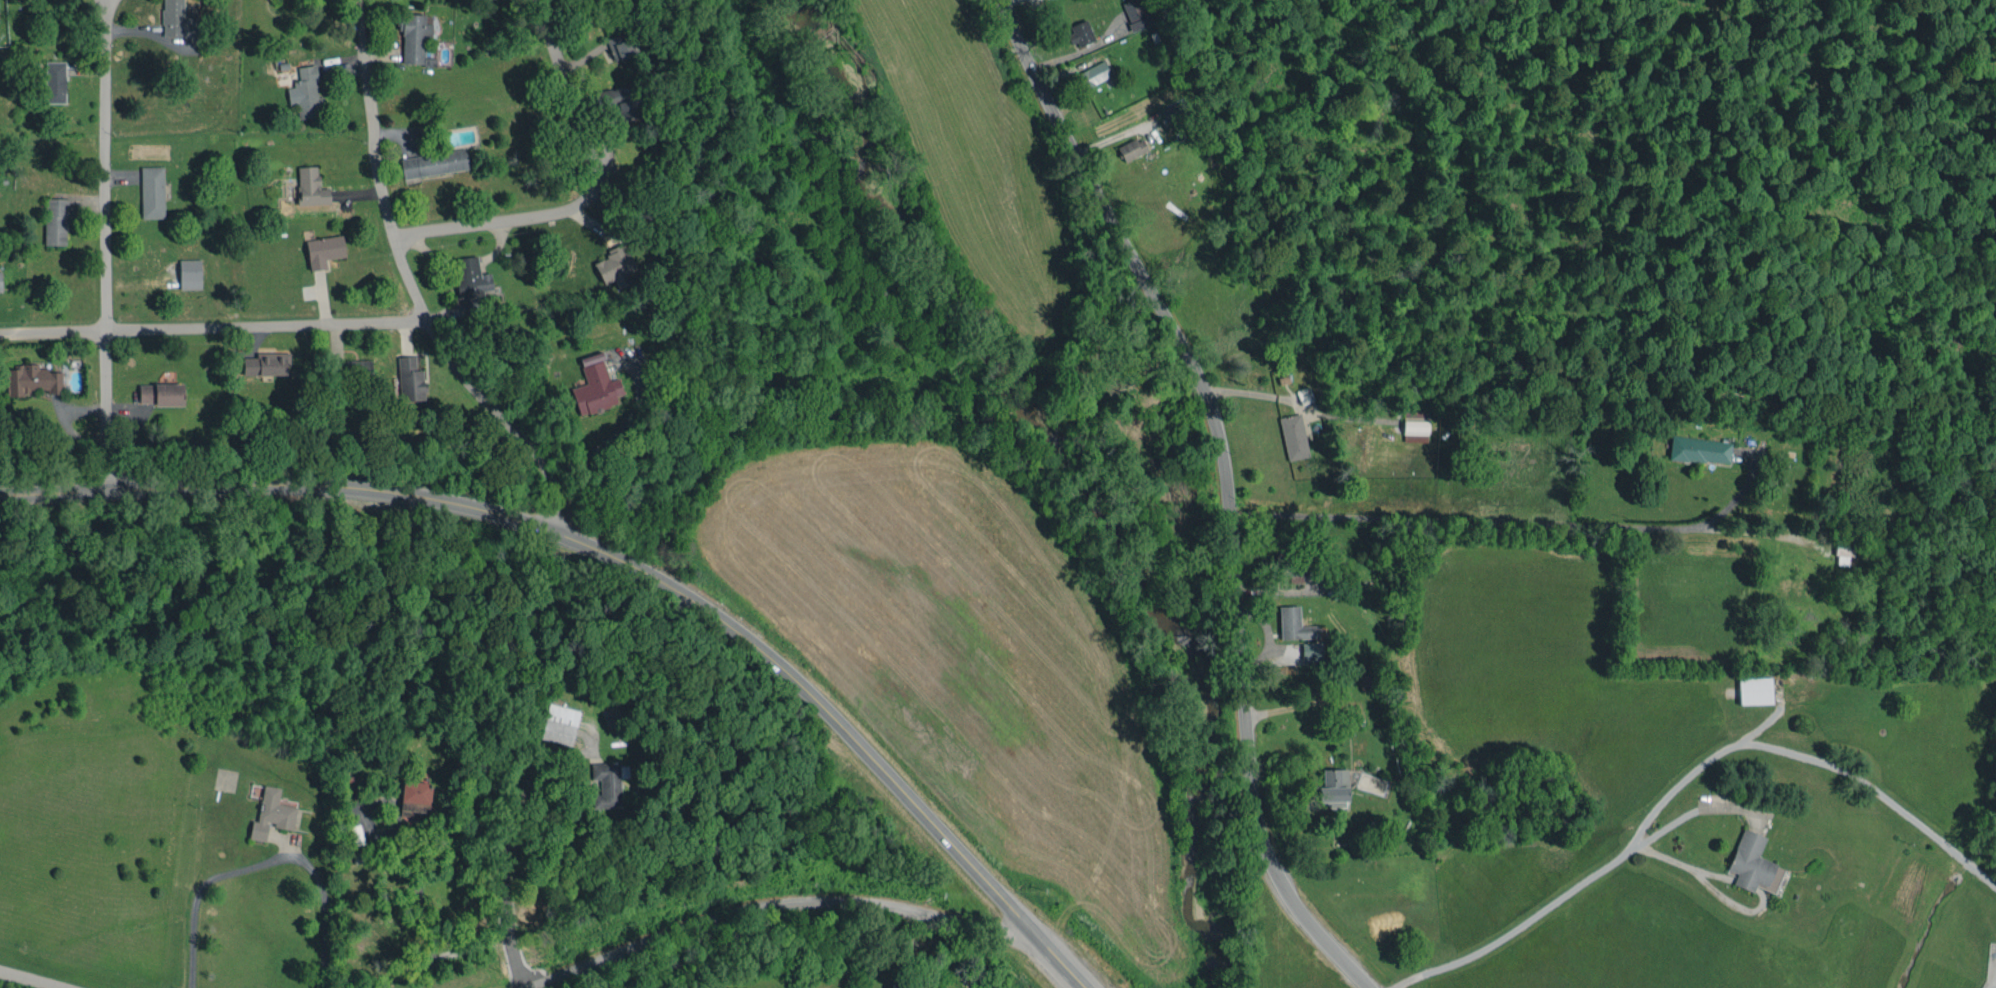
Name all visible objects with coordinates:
building: (1133, 12)
building: (176, 19)
road: (363, 24)
building: (1079, 30)
building: (617, 44)
road: (1075, 48)
building: (1091, 71)
building: (52, 79)
building: (306, 91)
building: (619, 97)
building: (1130, 145)
building: (431, 161)
building: (308, 184)
building: (149, 189)
road: (588, 193)
building: (53, 219)
road: (106, 247)
building: (322, 248)
building: (612, 263)
building: (187, 271)
building: (469, 279)
road: (424, 311)
road: (214, 329)
building: (264, 361)
building: (30, 377)
building: (407, 377)
building: (593, 383)
building: (159, 391)
road: (1244, 391)
building: (1413, 426)
road: (617, 432)
building: (1291, 434)
building: (1698, 447)
road: (1222, 485)
road: (1503, 525)
road: (1749, 529)
road: (623, 562)
building: (1292, 621)
road: (1308, 707)
building: (556, 721)
road: (1811, 760)
building: (1333, 783)
building: (268, 810)
building: (1748, 858)
road: (1676, 859)
road: (263, 860)
road: (504, 879)
road: (420, 898)
road: (779, 903)
road: (1515, 924)
road: (32, 978)
road: (1991, 984)

